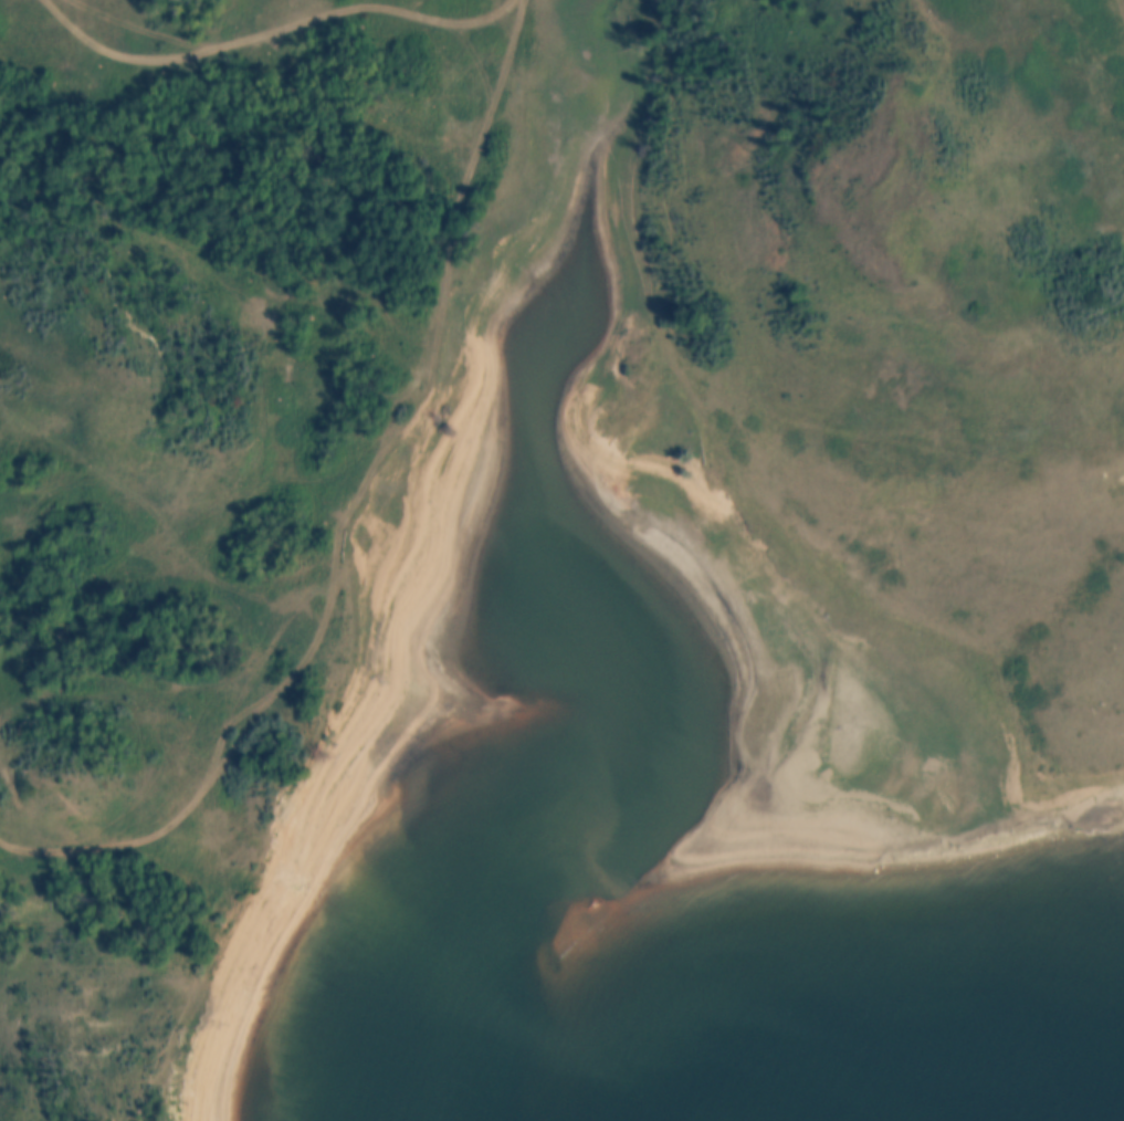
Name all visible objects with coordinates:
road: (1123, 2)

